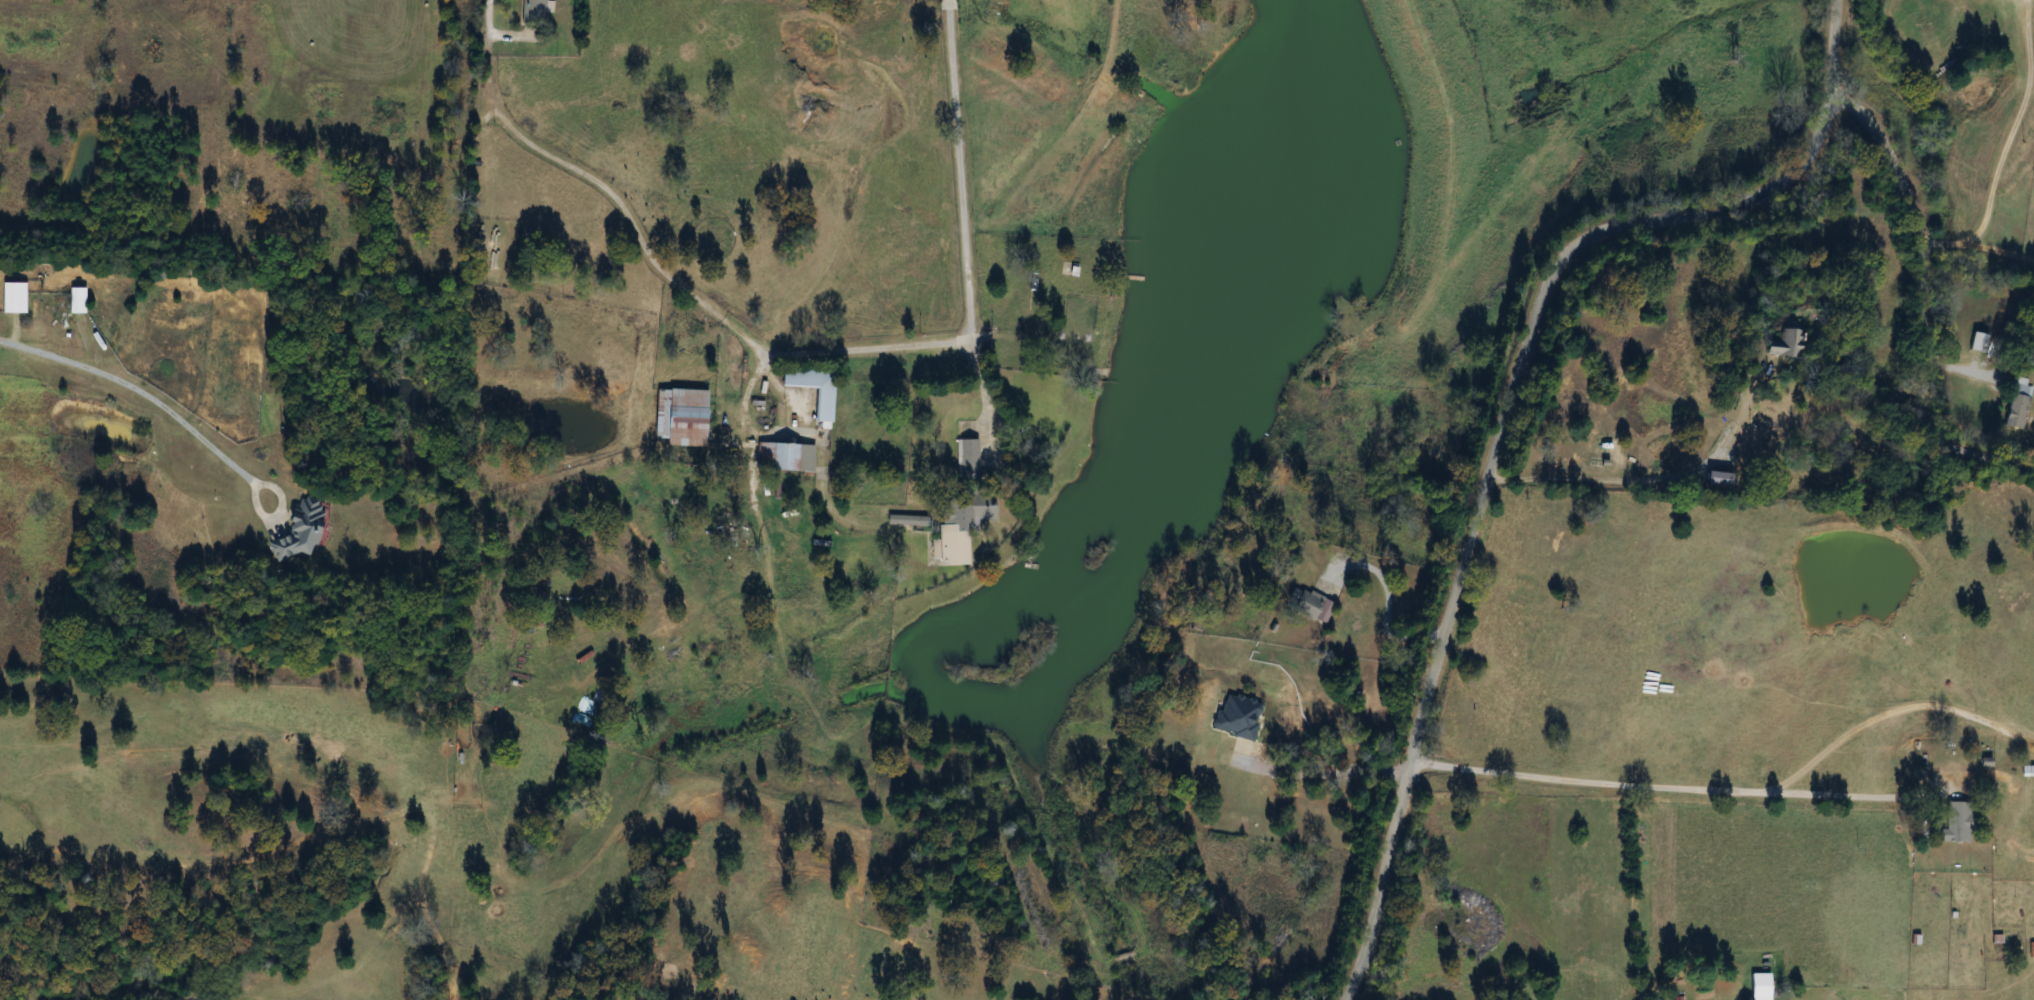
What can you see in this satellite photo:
road: (947, 7)
building: (538, 11)
road: (2013, 123)
road: (1943, 239)
road: (1999, 247)
building: (19, 298)
building: (82, 301)
road: (1918, 306)
building: (1978, 343)
building: (1778, 345)
road: (786, 354)
road: (139, 394)
building: (2017, 404)
building: (822, 406)
building: (688, 417)
road: (1505, 421)
building: (783, 458)
building: (965, 462)
road: (1653, 480)
road: (280, 519)
building: (954, 530)
building: (305, 532)
building: (1302, 602)
building: (1235, 718)
building: (2023, 772)
road: (1326, 775)
road: (1676, 789)
building: (1955, 824)
building: (2030, 951)
building: (1757, 987)

